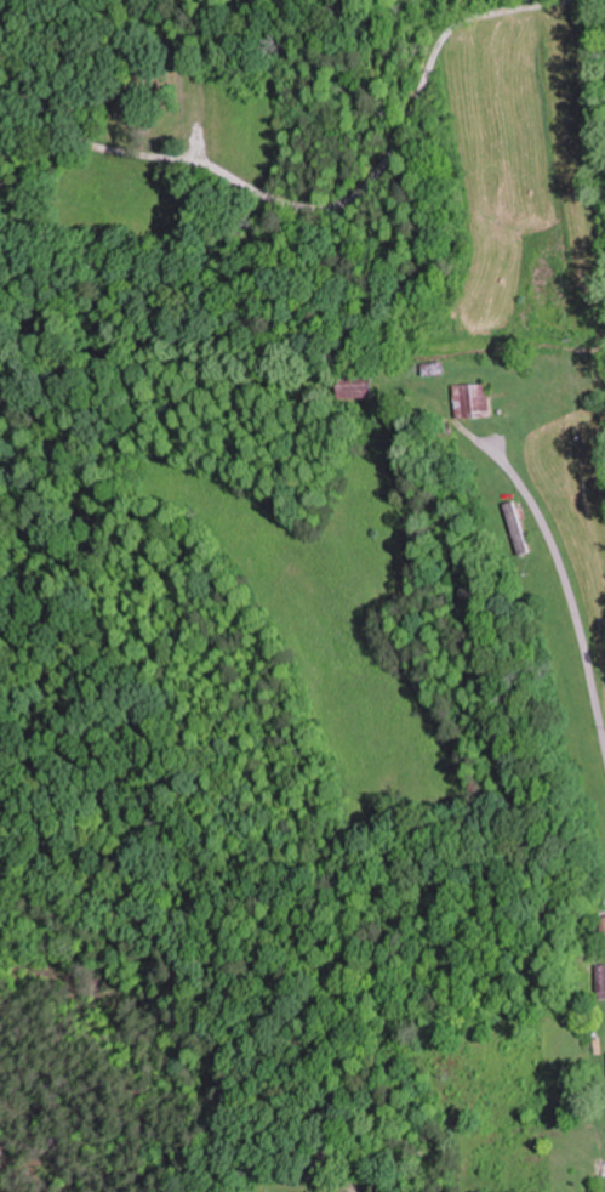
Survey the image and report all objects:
park: (152, 90)
building: (352, 385)
building: (470, 401)
building: (512, 528)
road: (564, 592)
building: (594, 955)
park: (291, 1186)
road: (350, 1190)

